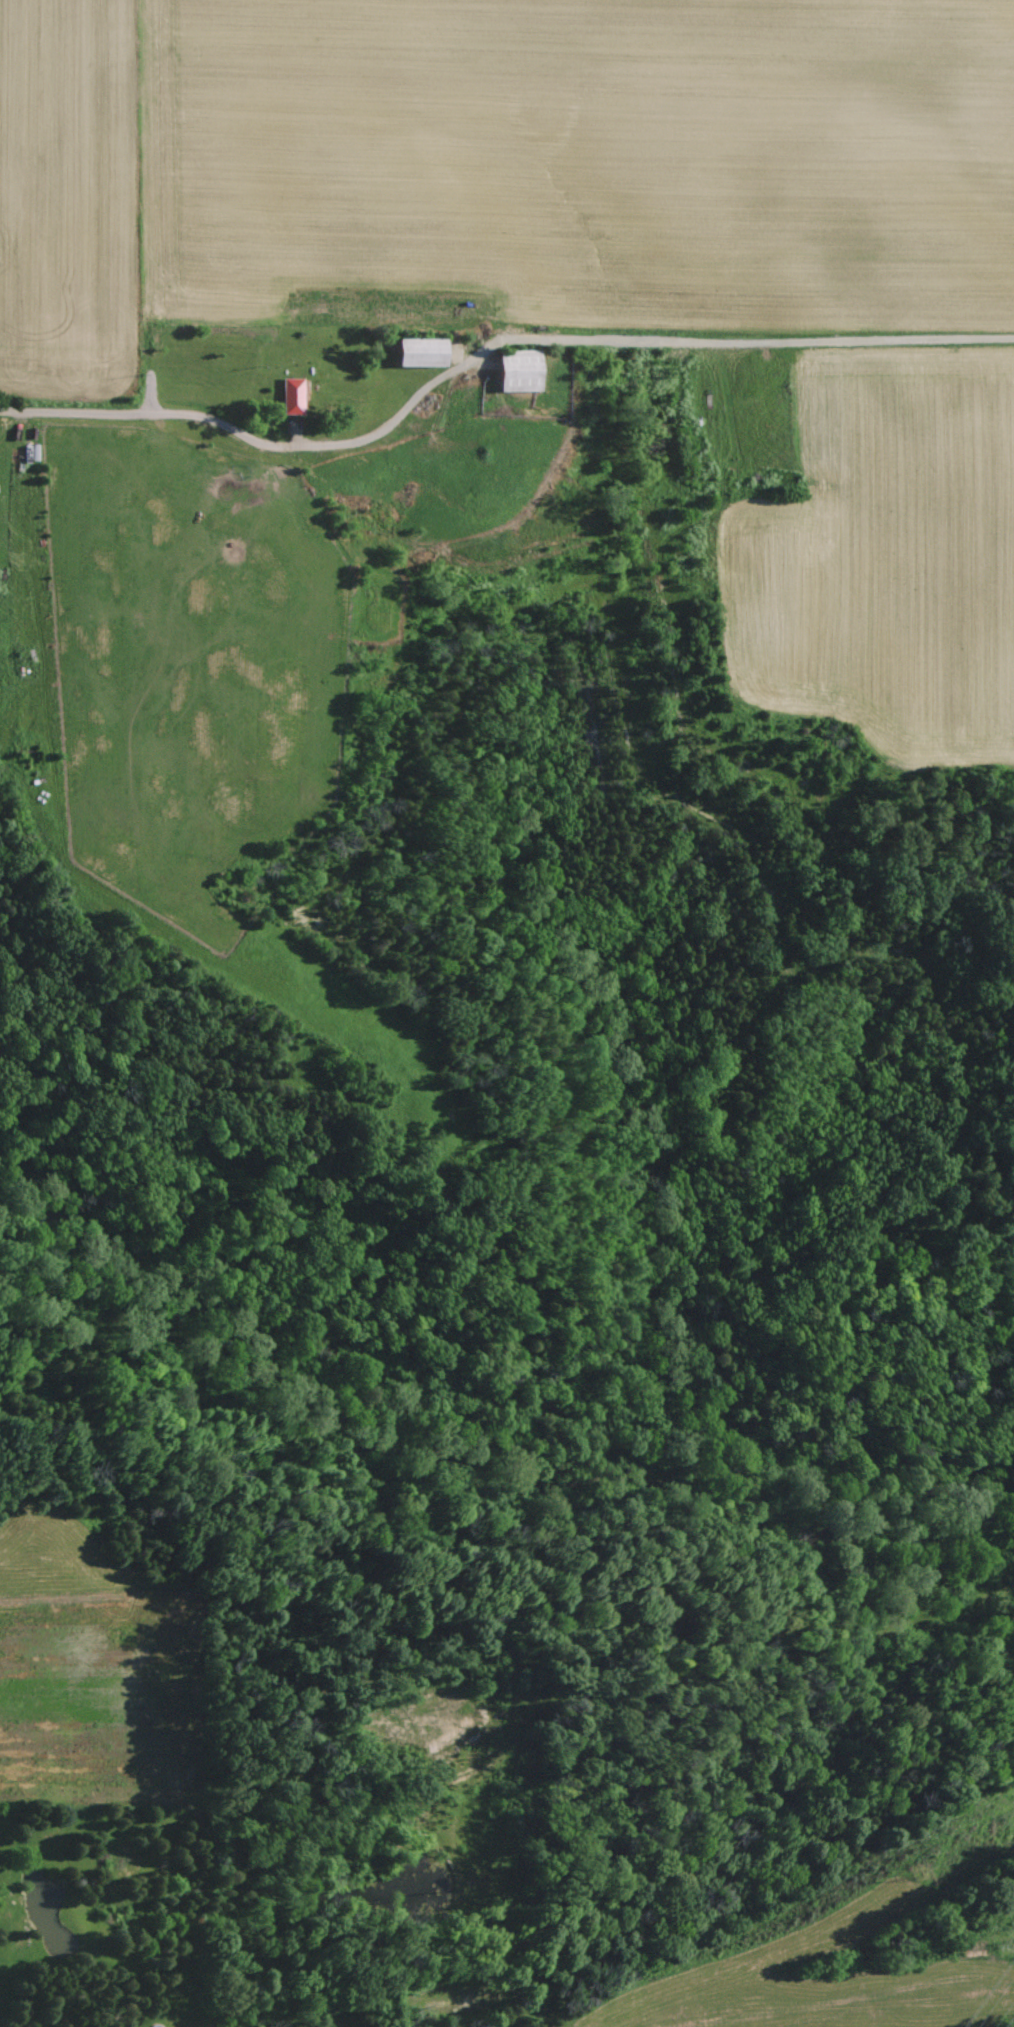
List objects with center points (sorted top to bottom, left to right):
building: (422, 352)
building: (520, 371)
building: (292, 396)
road: (236, 428)
power tower: (915, 1875)
power tower: (1010, 1949)

